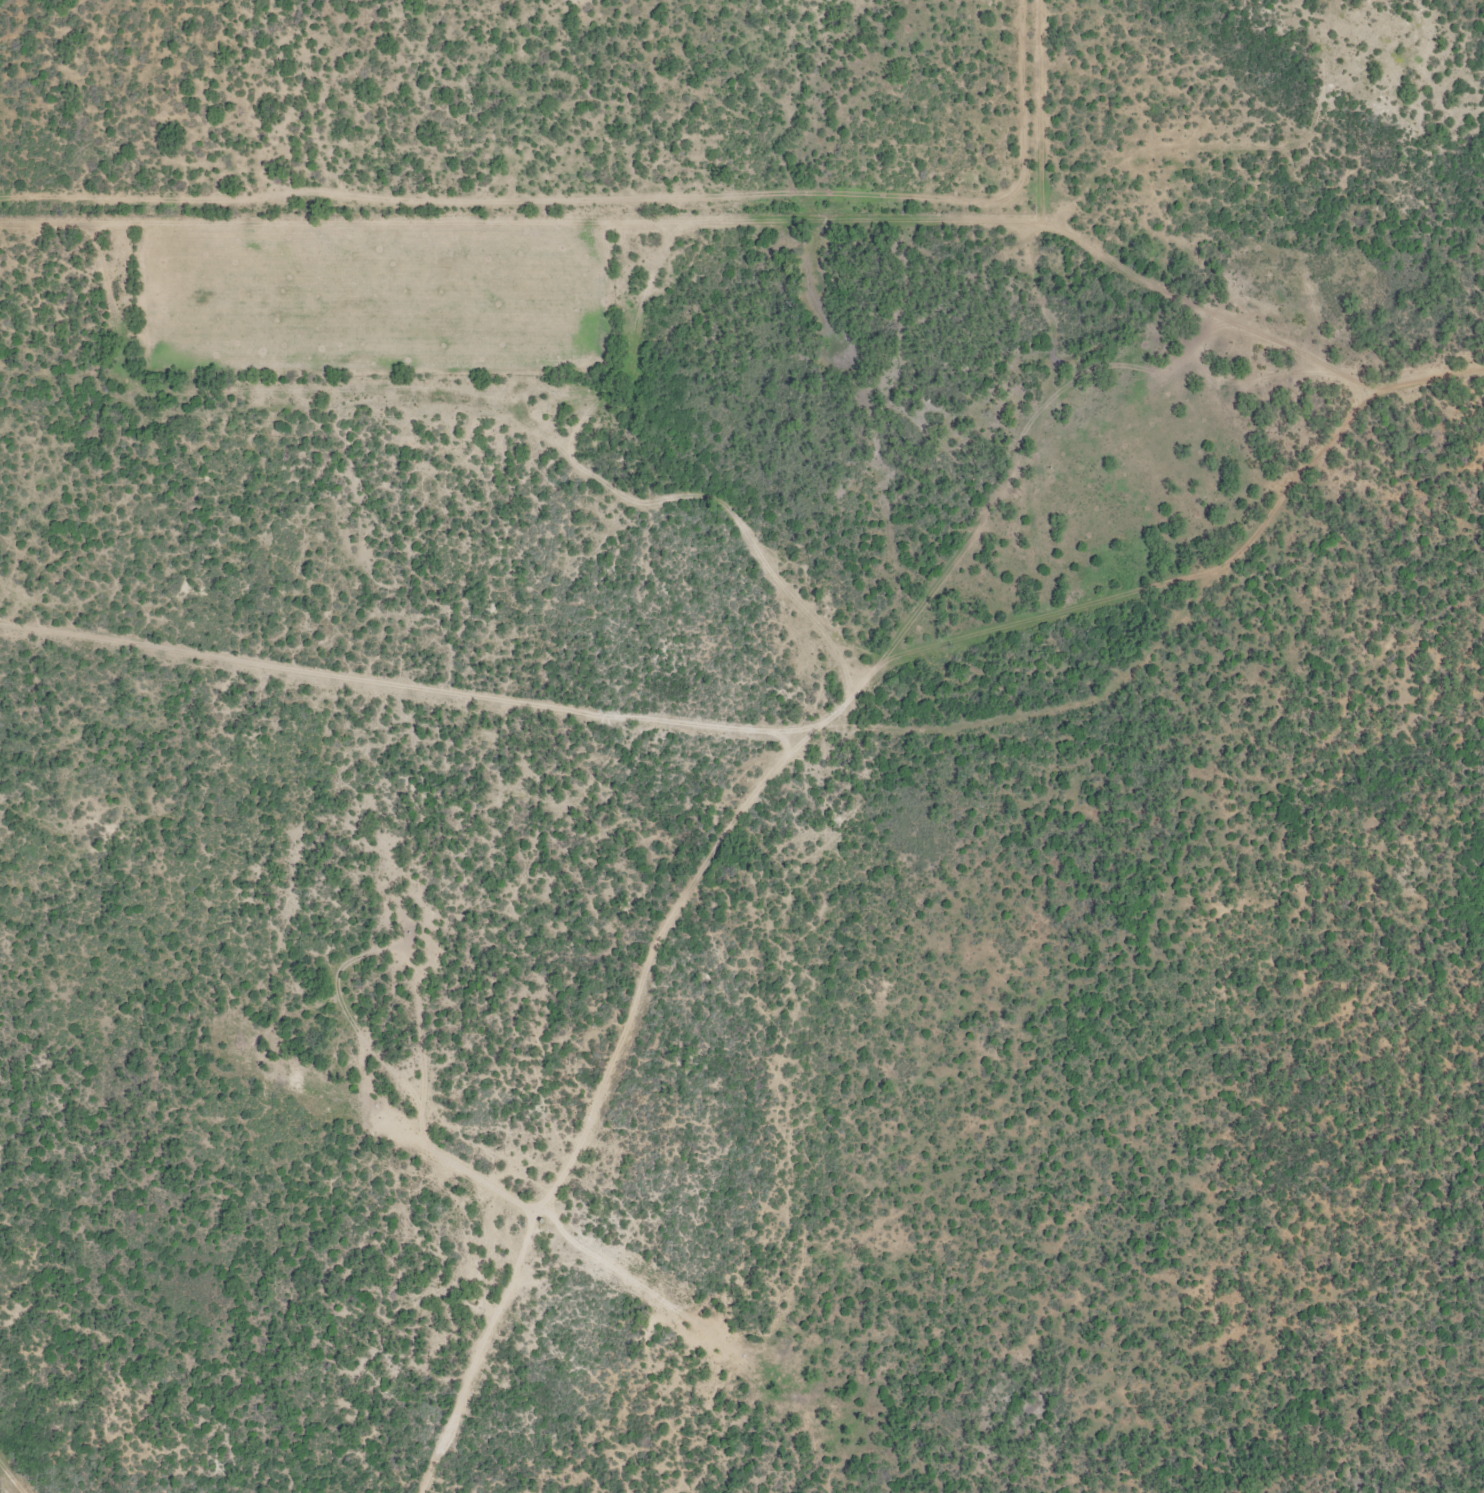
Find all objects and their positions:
road: (580, 235)
road: (791, 755)
road: (706, 927)

